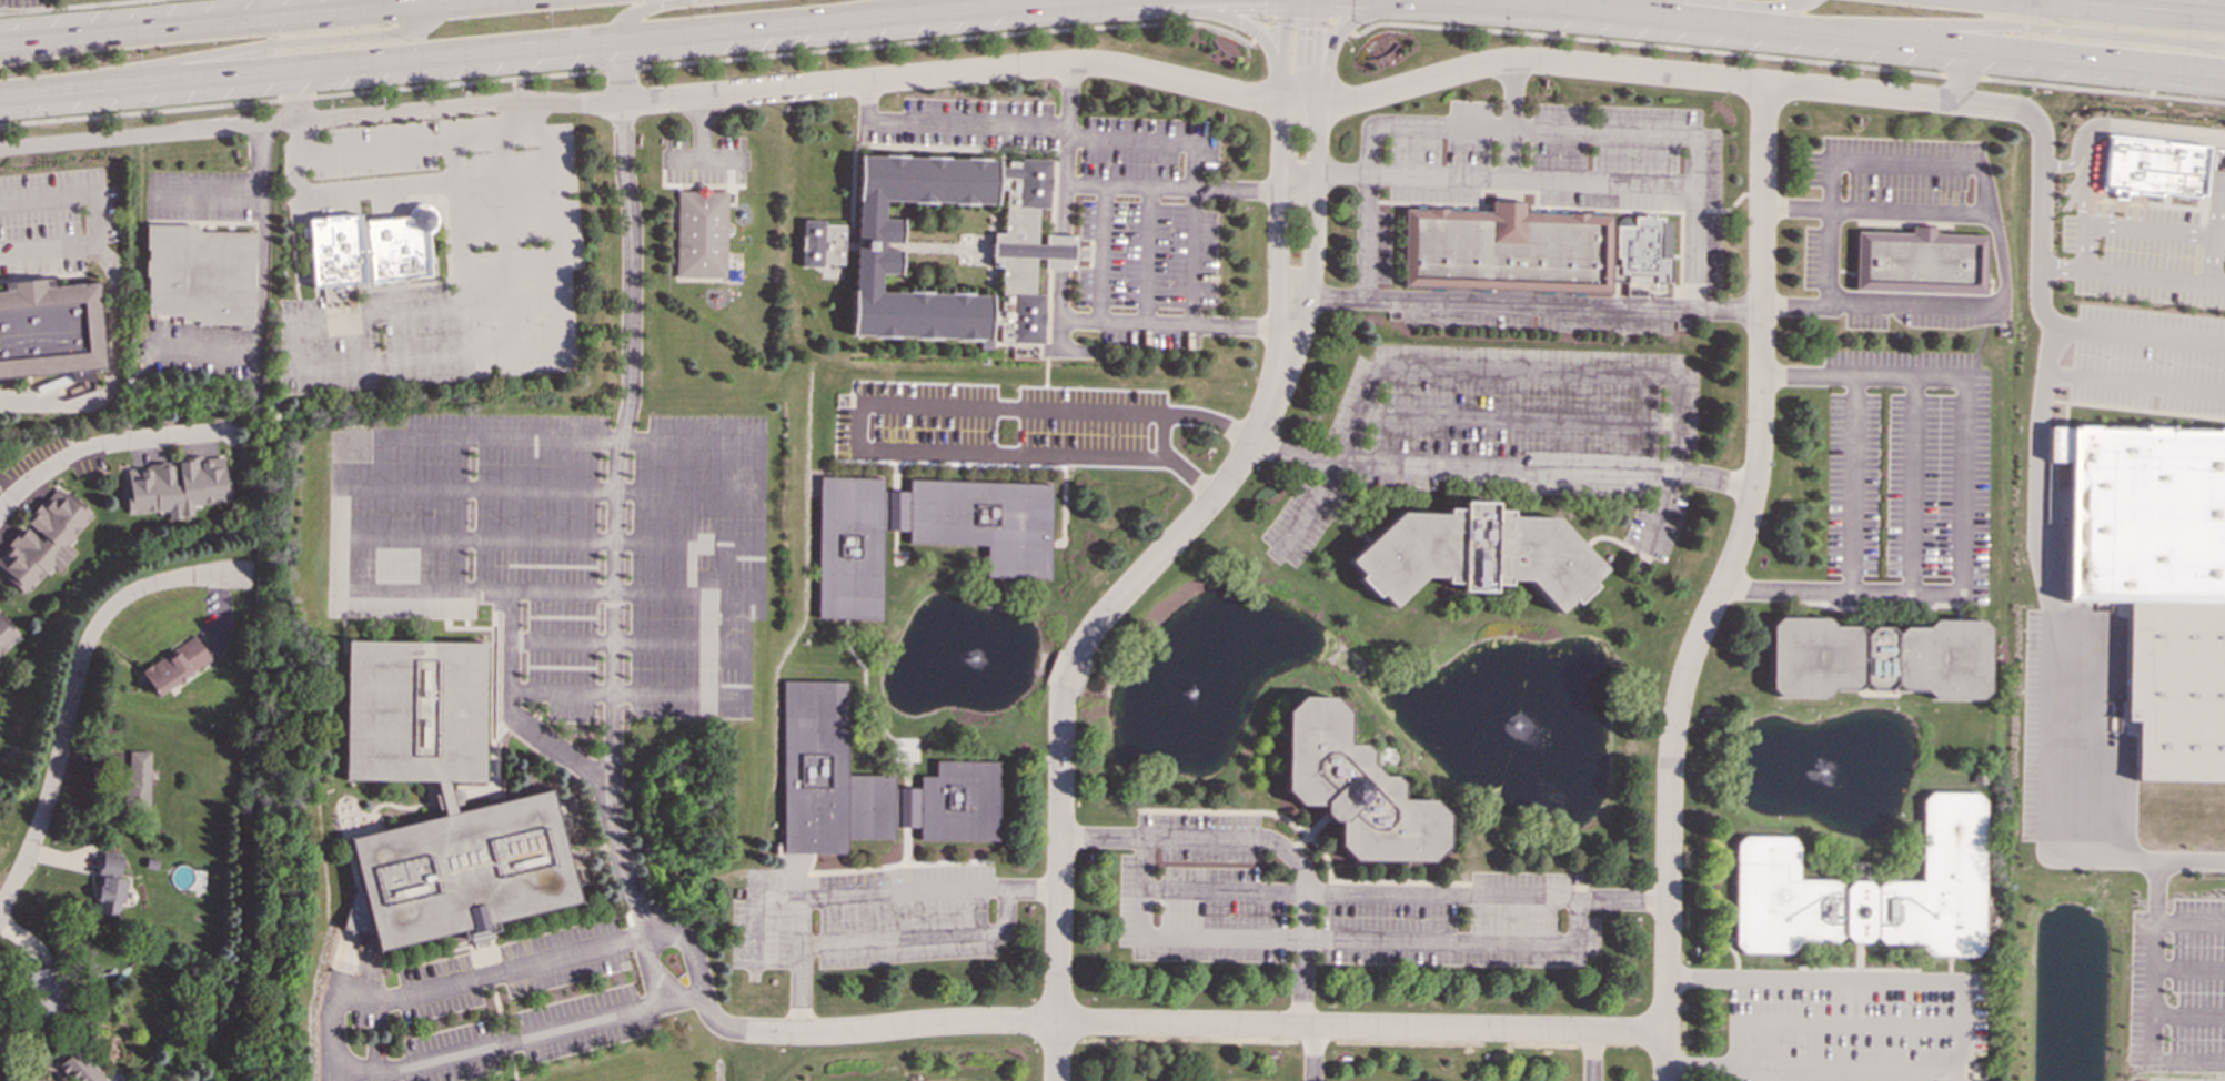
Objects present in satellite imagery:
road: (1682, 0)
road: (427, 1)
road: (2071, 1)
parking lot: (20, 3)
road: (68, 6)
road: (647, 8)
road: (2131, 8)
road: (268, 9)
road: (876, 10)
road: (1269, 10)
road: (1164, 11)
road: (1331, 11)
road: (232, 21)
road: (1299, 21)
road: (2020, 26)
road: (1341, 27)
road: (1346, 27)
road: (1262, 29)
traffic signals: (1320, 29)
road: (1842, 34)
road: (950, 39)
road: (262, 44)
road: (1647, 44)
road: (552, 47)
road: (48, 48)
road: (621, 69)
road: (623, 72)
road: (1962, 77)
road: (2102, 90)
road: (295, 94)
road: (301, 98)
road: (1318, 104)
road: (521, 117)
road: (311, 118)
road: (1514, 119)
road: (949, 123)
road: (702, 128)
road: (1536, 129)
road: (2150, 131)
road: (1135, 140)
road: (1283, 145)
road: (1321, 148)
road: (1069, 149)
road: (704, 160)
road: (451, 161)
parking lot: (705, 161)
road: (2068, 164)
parking lot: (1573, 165)
building: (2151, 166)
road: (1489, 178)
road: (2082, 184)
road: (1176, 188)
road: (205, 193)
parking lot: (199, 196)
road: (1987, 200)
road: (1941, 201)
road: (1953, 202)
parking lot: (1108, 203)
road: (2217, 206)
road: (2177, 208)
road: (1876, 211)
road: (2102, 213)
road: (2132, 215)
parking lot: (1886, 218)
parking lot: (54, 221)
road: (2151, 230)
building: (702, 233)
road: (1198, 234)
road: (510, 242)
parking lot: (1378, 246)
road: (46, 247)
building: (370, 247)
building: (1036, 249)
building: (1530, 250)
road: (1065, 251)
parking lot: (2151, 252)
road: (1107, 254)
road: (1151, 255)
building: (1920, 262)
road: (2038, 271)
building: (201, 275)
road: (2131, 275)
road: (1297, 292)
road: (261, 293)
road: (114, 296)
road: (1320, 296)
road: (1539, 304)
road: (1762, 307)
road: (1289, 310)
road: (1300, 312)
parking lot: (1537, 312)
road: (1061, 325)
road: (1177, 325)
building: (50, 330)
road: (467, 331)
parking lot: (197, 353)
parking lot: (2148, 361)
road: (373, 362)
road: (1510, 371)
road: (2134, 383)
road: (39, 391)
road: (2133, 408)
road: (1108, 413)
road: (1517, 418)
parking lot: (1007, 425)
parking lot: (1507, 431)
road: (1166, 437)
road: (694, 440)
road: (104, 446)
parking lot: (1910, 467)
road: (1851, 484)
road: (1913, 485)
building: (177, 486)
road: (552, 488)
road: (1964, 505)
road: (1206, 508)
road: (338, 511)
road: (617, 519)
building: (926, 533)
building: (43, 539)
road: (551, 539)
parking lot: (567, 547)
building: (1474, 554)
building: (2156, 580)
road: (1722, 583)
road: (689, 592)
road: (449, 605)
road: (466, 605)
road: (466, 624)
road: (465, 628)
building: (7, 636)
road: (630, 641)
road: (2052, 643)
fountain: (976, 658)
building: (1879, 659)
building: (174, 665)
building: (0, 671)
road: (1068, 676)
road: (628, 691)
fountain: (1191, 691)
road: (74, 694)
road: (492, 705)
road: (514, 711)
road: (506, 718)
parking lot: (2038, 725)
fountain: (1527, 738)
building: (137, 779)
fountain: (1860, 780)
building: (867, 785)
building: (1355, 789)
building: (440, 802)
road: (1265, 839)
road: (904, 846)
road: (802, 871)
road: (904, 878)
road: (889, 879)
road: (862, 881)
road: (872, 881)
road: (852, 882)
building: (109, 886)
road: (1058, 886)
road: (928, 889)
road: (1222, 891)
building: (1870, 891)
road: (1484, 897)
parking lot: (1333, 909)
parking lot: (860, 918)
road: (2191, 923)
road: (751, 928)
road: (922, 936)
road: (1332, 940)
road: (687, 946)
road: (444, 949)
road: (473, 949)
road: (527, 951)
road: (507, 957)
road: (344, 963)
road: (2156, 963)
road: (798, 964)
road: (462, 968)
road: (2191, 968)
parking lot: (511, 969)
road: (443, 972)
road: (523, 980)
road: (512, 982)
parking lot: (2198, 986)
road: (652, 989)
parking lot: (2146, 991)
building: (43, 993)
road: (496, 1014)
road: (2189, 1014)
parking lot: (368, 1019)
road: (715, 1021)
road: (1204, 1023)
road: (1828, 1023)
parking lot: (1853, 1026)
road: (1962, 1026)
parking lot: (515, 1038)
road: (330, 1044)
road: (1313, 1053)
road: (1591, 1055)
building: (78, 1068)
road: (330, 1075)

